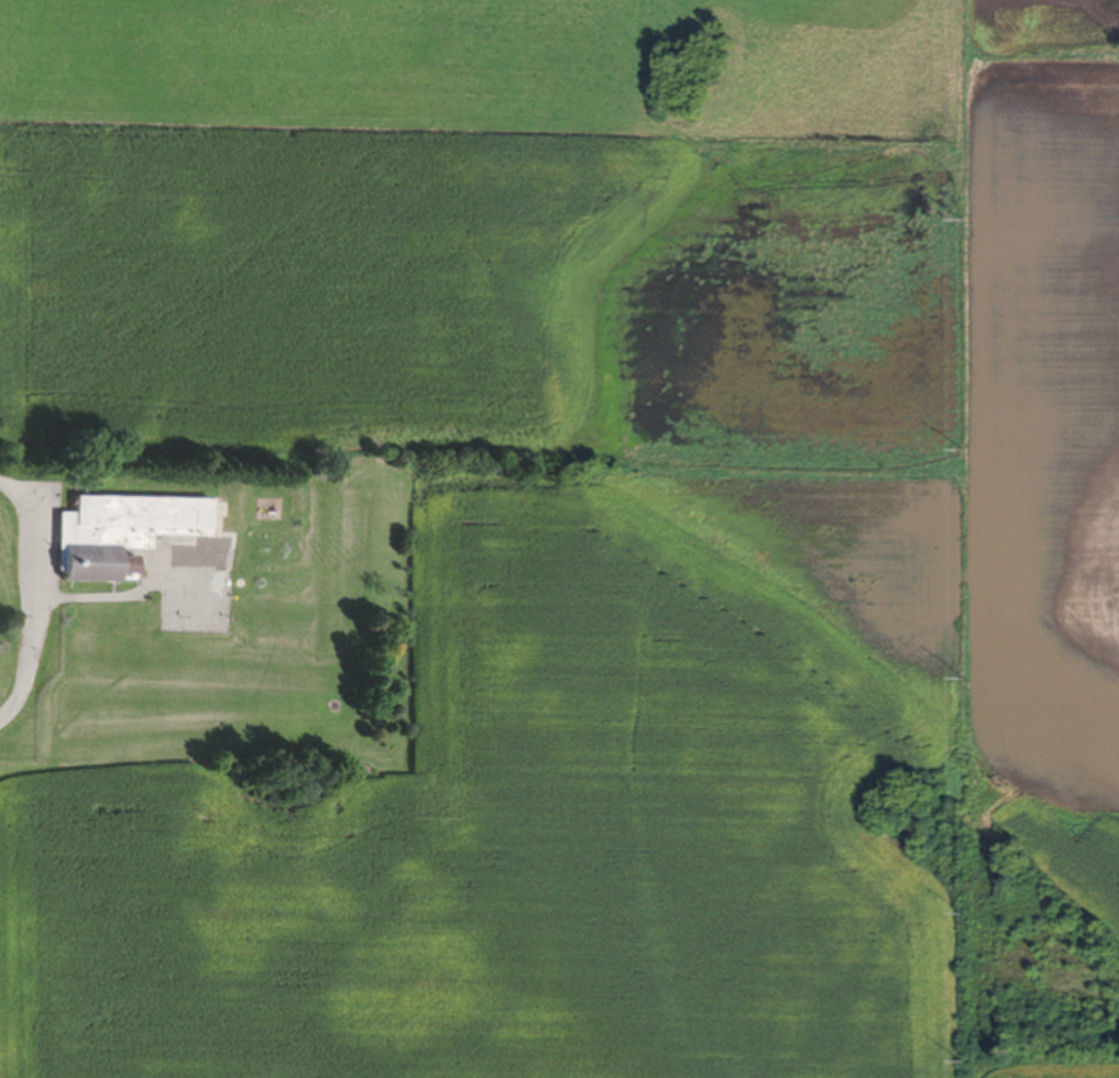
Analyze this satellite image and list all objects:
building: (142, 535)
road: (33, 593)

